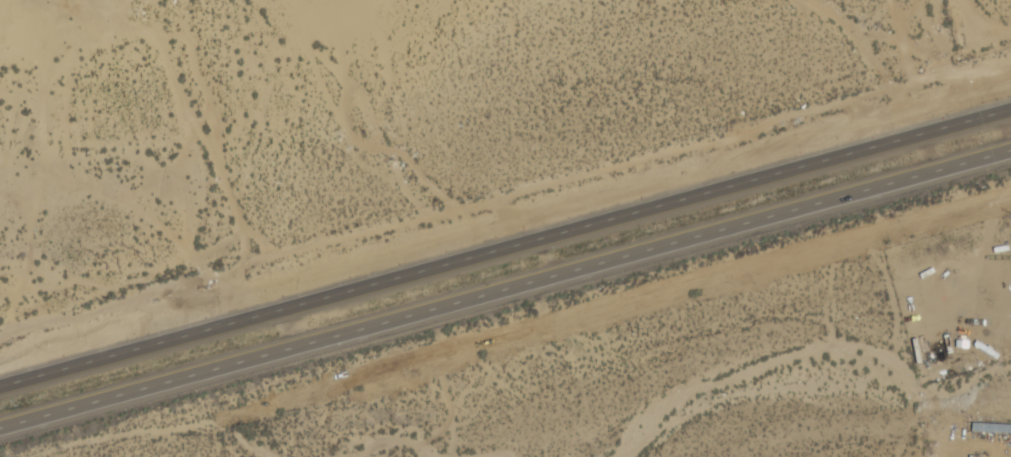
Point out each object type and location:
road: (505, 248)
road: (505, 290)

